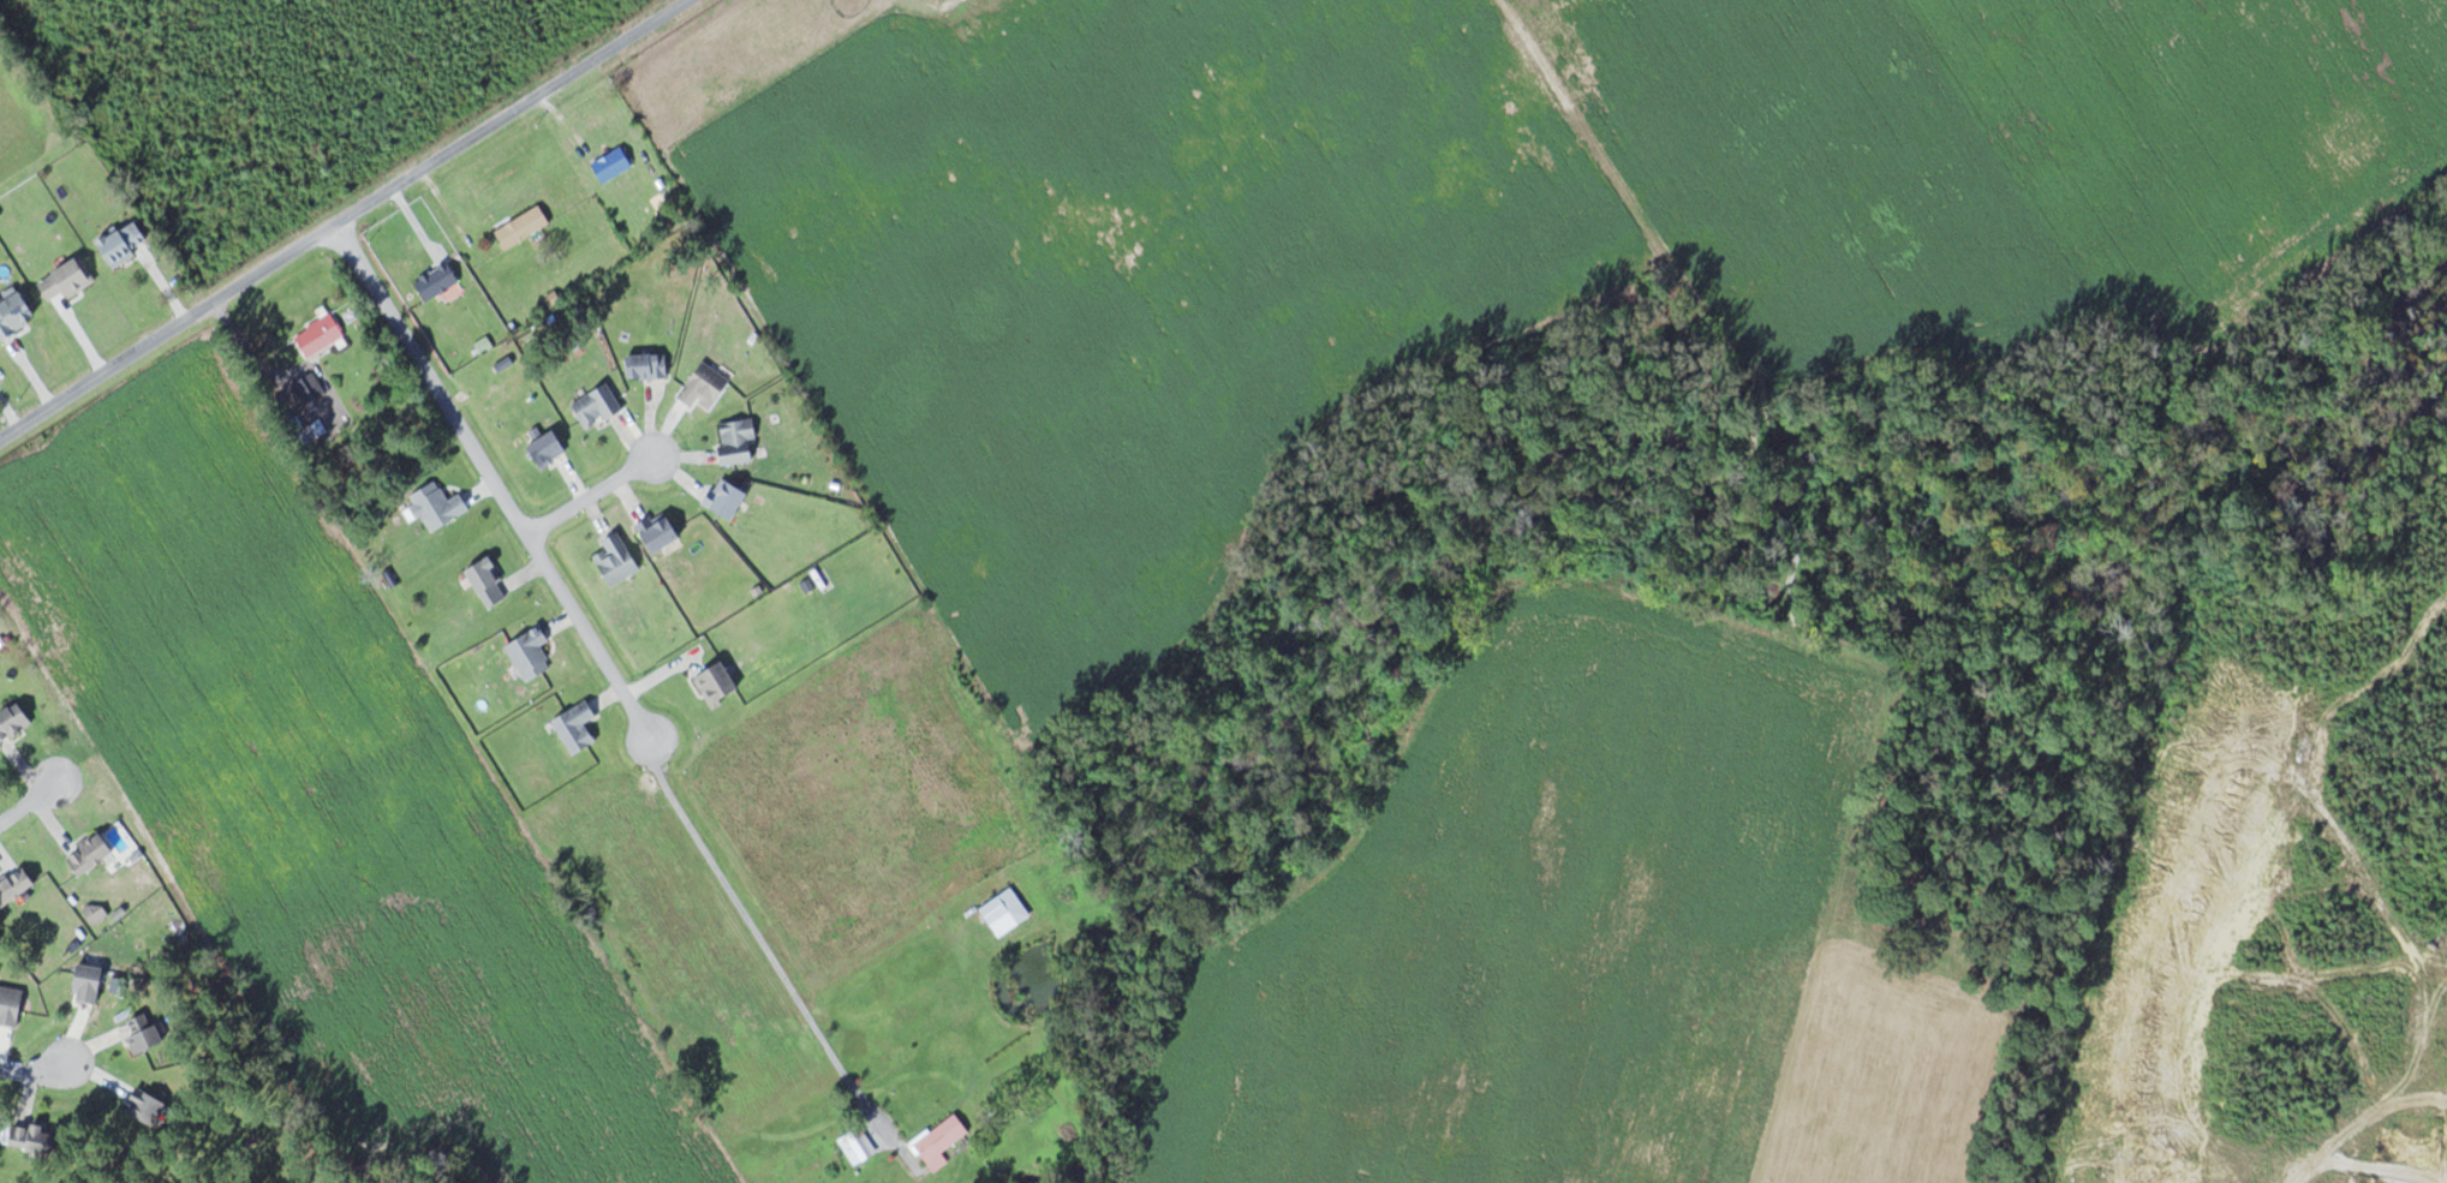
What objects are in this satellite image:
building: (614, 163)
road: (340, 220)
building: (524, 225)
building: (124, 241)
building: (70, 277)
building: (438, 279)
building: (16, 311)
building: (321, 334)
building: (709, 384)
building: (309, 388)
building: (596, 406)
building: (740, 440)
road: (491, 480)
road: (593, 490)
building: (441, 504)
building: (619, 557)
building: (16, 721)
building: (579, 725)
crop: (326, 783)
road: (30, 797)
building: (92, 852)
building: (17, 884)
building: (1008, 910)
road: (772, 957)
road: (34, 1067)
building: (37, 1137)
building: (943, 1141)
building: (860, 1146)

